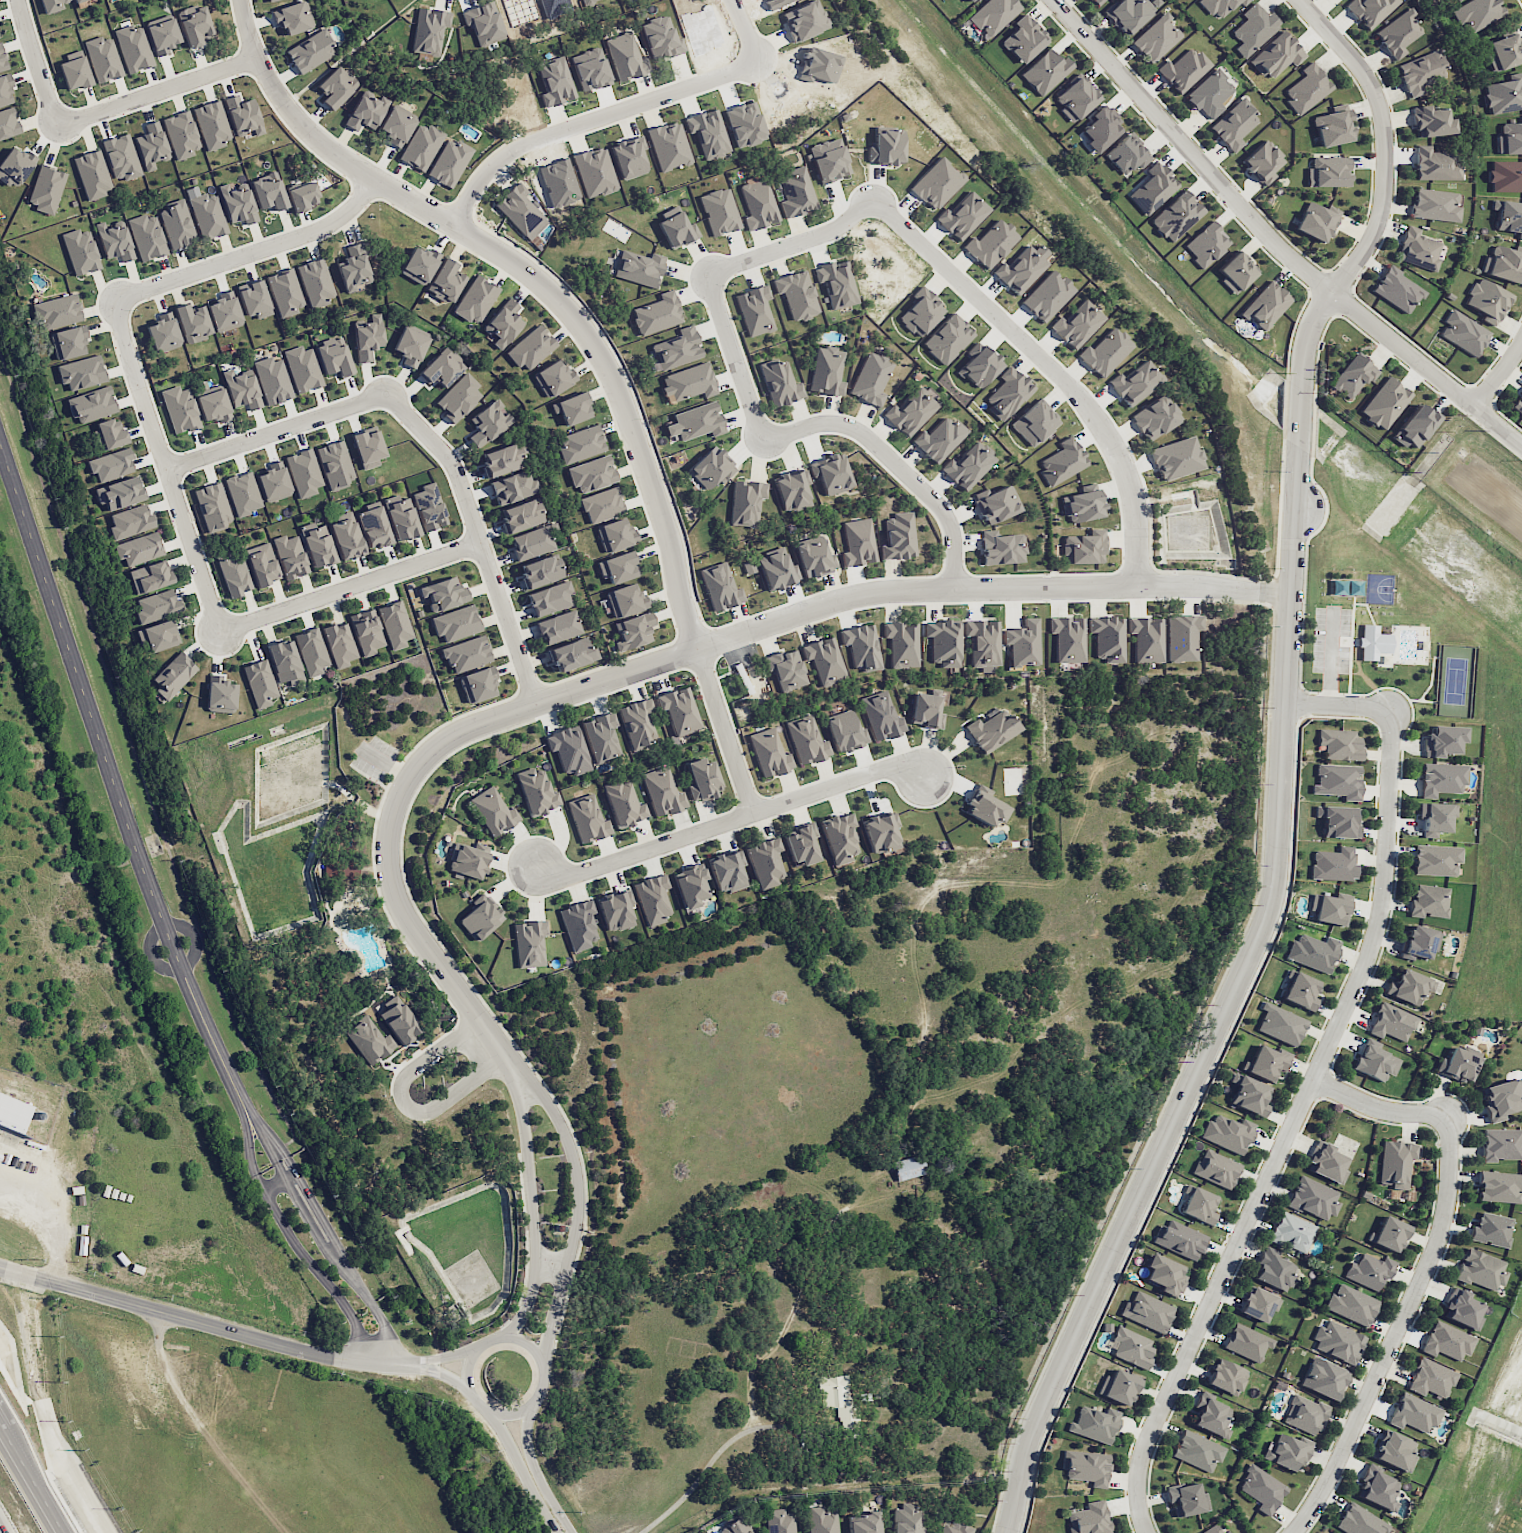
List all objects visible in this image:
building: (77, 0)
building: (271, 0)
building: (967, 0)
building: (1342, 0)
building: (1455, 0)
building: (1097, 1)
building: (51, 5)
building: (1219, 6)
building: (1370, 10)
building: (1129, 12)
building: (1476, 14)
building: (992, 15)
building: (293, 18)
building: (194, 24)
building: (1253, 29)
road: (744, 30)
building: (1398, 33)
building: (162, 34)
building: (660, 38)
building: (1156, 38)
building: (1023, 39)
building: (133, 48)
building: (310, 52)
building: (1276, 55)
building: (625, 57)
building: (102, 58)
building: (2, 60)
road: (38, 63)
building: (1183, 69)
building: (1044, 71)
building: (1420, 71)
building: (74, 73)
building: (555, 81)
building: (336, 86)
building: (1306, 89)
building: (5, 91)
road: (157, 92)
building: (1209, 94)
building: (1504, 94)
building: (1076, 98)
building: (365, 112)
building: (243, 116)
road: (588, 119)
building: (1431, 121)
building: (8, 123)
building: (1234, 124)
building: (211, 125)
building: (396, 125)
building: (1101, 128)
building: (1332, 128)
building: (708, 133)
building: (181, 134)
building: (1510, 138)
building: (150, 144)
building: (668, 145)
building: (421, 146)
building: (885, 146)
building: (1127, 154)
building: (121, 157)
building: (629, 158)
building: (829, 160)
building: (449, 162)
building: (1262, 162)
building: (1436, 165)
building: (14, 166)
building: (1328, 171)
building: (92, 174)
building: (1505, 176)
building: (936, 183)
building: (1152, 188)
building: (46, 189)
building: (268, 191)
building: (795, 193)
building: (302, 196)
building: (237, 204)
building: (758, 204)
building: (1435, 205)
building: (520, 211)
building: (719, 211)
building: (207, 216)
building: (962, 216)
building: (1176, 216)
building: (1508, 216)
building: (1315, 221)
building: (176, 224)
building: (146, 236)
building: (114, 241)
road: (1272, 241)
road: (793, 243)
building: (990, 243)
building: (1206, 244)
building: (1419, 248)
building: (80, 251)
road: (252, 252)
building: (1503, 263)
building: (419, 265)
building: (354, 267)
building: (639, 267)
building: (1021, 268)
building: (1235, 272)
building: (446, 281)
building: (315, 282)
building: (836, 283)
building: (1397, 289)
building: (284, 292)
building: (796, 294)
building: (1047, 295)
building: (253, 299)
building: (475, 300)
building: (1487, 300)
building: (1265, 305)
building: (57, 310)
building: (754, 310)
building: (224, 311)
building: (921, 312)
building: (657, 314)
building: (192, 323)
building: (1076, 324)
building: (1463, 332)
building: (163, 333)
building: (368, 338)
road: (587, 338)
building: (947, 338)
building: (67, 343)
building: (410, 345)
building: (530, 348)
building: (676, 349)
building: (1105, 352)
road: (735, 355)
building: (333, 356)
road: (1051, 364)
building: (441, 368)
building: (302, 369)
building: (826, 371)
building: (81, 372)
building: (1353, 375)
road: (1498, 376)
building: (553, 378)
building: (870, 379)
building: (272, 380)
building: (689, 382)
building: (779, 382)
building: (1135, 383)
building: (241, 389)
building: (1007, 392)
building: (458, 398)
building: (1384, 403)
building: (92, 404)
building: (1517, 404)
building: (214, 406)
building: (180, 409)
building: (571, 409)
building: (910, 411)
building: (1154, 418)
building: (695, 422)
building: (486, 423)
building: (1034, 423)
building: (1414, 426)
road: (276, 429)
building: (110, 434)
building: (939, 439)
building: (580, 444)
building: (367, 447)
building: (1176, 458)
building: (501, 459)
road: (895, 461)
building: (1062, 461)
building: (111, 464)
road: (164, 464)
building: (335, 464)
building: (967, 466)
building: (711, 468)
building: (303, 472)
building: (591, 473)
building: (831, 473)
building: (273, 482)
building: (513, 487)
building: (792, 489)
building: (119, 493)
building: (242, 493)
building: (746, 502)
building: (995, 503)
building: (601, 504)
building: (212, 506)
building: (1082, 506)
building: (429, 507)
road: (1301, 511)
building: (520, 515)
building: (402, 520)
building: (130, 521)
building: (373, 527)
building: (614, 534)
road: (477, 536)
building: (898, 536)
building: (346, 537)
building: (857, 542)
building: (531, 543)
building: (318, 546)
building: (1000, 547)
building: (138, 548)
building: (1083, 548)
building: (290, 556)
building: (814, 557)
building: (261, 564)
building: (617, 567)
building: (775, 569)
building: (541, 571)
building: (234, 573)
building: (149, 577)
road: (349, 586)
building: (720, 586)
building: (442, 593)
building: (550, 598)
building: (624, 600)
building: (155, 605)
building: (455, 623)
building: (395, 624)
building: (558, 626)
building: (366, 631)
building: (633, 631)
building: (158, 635)
building: (1182, 637)
building: (1067, 638)
building: (1107, 638)
building: (1146, 639)
building: (943, 642)
building: (982, 642)
building: (1022, 642)
building: (1372, 642)
building: (901, 643)
building: (339, 644)
building: (861, 646)
building: (311, 651)
building: (467, 653)
building: (572, 654)
road: (652, 659)
building: (283, 660)
building: (824, 660)
building: (785, 669)
building: (174, 675)
building: (259, 683)
building: (477, 685)
building: (219, 695)
building: (679, 710)
building: (926, 710)
building: (881, 716)
building: (638, 723)
building: (992, 729)
building: (845, 731)
building: (601, 736)
building: (806, 740)
building: (1443, 740)
building: (1339, 744)
building: (568, 750)
building: (769, 753)
parking lot: (375, 756)
road: (383, 761)
road: (1281, 768)
building: (702, 779)
building: (1441, 779)
building: (1337, 781)
road: (113, 784)
building: (662, 791)
building: (536, 792)
building: (624, 804)
building: (983, 808)
building: (493, 811)
building: (1435, 817)
building: (587, 819)
road: (729, 819)
building: (1338, 821)
building: (881, 833)
building: (840, 837)
building: (801, 844)
building: (1436, 860)
building: (468, 862)
building: (765, 862)
building: (1333, 864)
building: (727, 870)
building: (690, 885)
building: (653, 898)
building: (1429, 901)
building: (1329, 909)
building: (615, 911)
building: (479, 918)
building: (578, 924)
building: (529, 943)
road: (149, 946)
building: (1312, 952)
building: (1409, 986)
building: (1299, 990)
building: (398, 1020)
building: (1391, 1022)
building: (1280, 1024)
building: (369, 1040)
building: (1266, 1062)
building: (1374, 1062)
building: (1457, 1065)
road: (1313, 1080)
building: (1248, 1094)
building: (1501, 1098)
road: (402, 1101)
road: (1378, 1108)
building: (12, 1112)
building: (1227, 1133)
road: (273, 1143)
building: (1501, 1144)
road: (249, 1155)
road: (276, 1161)
road: (575, 1162)
building: (1326, 1162)
building: (1396, 1163)
road: (527, 1167)
building: (908, 1167)
building: (1216, 1169)
road: (281, 1183)
building: (1499, 1186)
building: (1313, 1198)
building: (1198, 1204)
building: (1491, 1229)
road: (316, 1232)
building: (1291, 1232)
building: (1388, 1234)
building: (1179, 1239)
road: (348, 1266)
road: (548, 1266)
building: (1480, 1269)
building: (1273, 1270)
building: (1369, 1270)
road: (319, 1274)
building: (1165, 1274)
road: (522, 1300)
building: (1259, 1304)
building: (1351, 1304)
building: (1461, 1309)
building: (1147, 1311)
road: (552, 1314)
road: (200, 1326)
road: (1396, 1330)
building: (1446, 1341)
building: (1247, 1342)
building: (1337, 1342)
building: (1131, 1347)
road: (446, 1356)
road: (442, 1373)
building: (1226, 1376)
building: (1324, 1378)
building: (1430, 1378)
building: (1118, 1387)
building: (838, 1401)
road: (508, 1410)
building: (1414, 1413)
building: (1304, 1414)
building: (1211, 1415)
building: (1095, 1424)
road: (1, 1429)
building: (1197, 1450)
building: (1393, 1450)
building: (1286, 1451)
road: (709, 1464)
building: (1087, 1467)
road: (525, 1468)
road: (539, 1469)
road: (32, 1482)
building: (1261, 1489)
building: (1377, 1489)
building: (1186, 1499)
building: (1089, 1518)
building: (907, 1519)
building: (821, 1520)
building: (779, 1521)
building: (1358, 1521)
building: (863, 1522)
building: (735, 1527)
building: (954, 1528)
building: (1211, 1529)
building: (1227, 1532)

